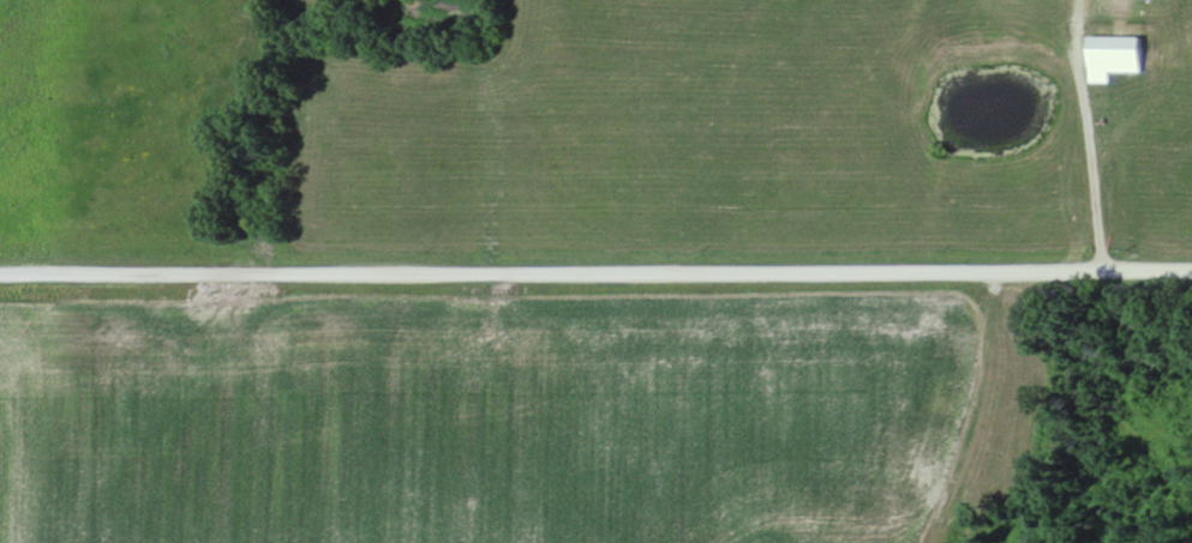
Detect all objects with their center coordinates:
building: (1120, 55)
road: (595, 271)

